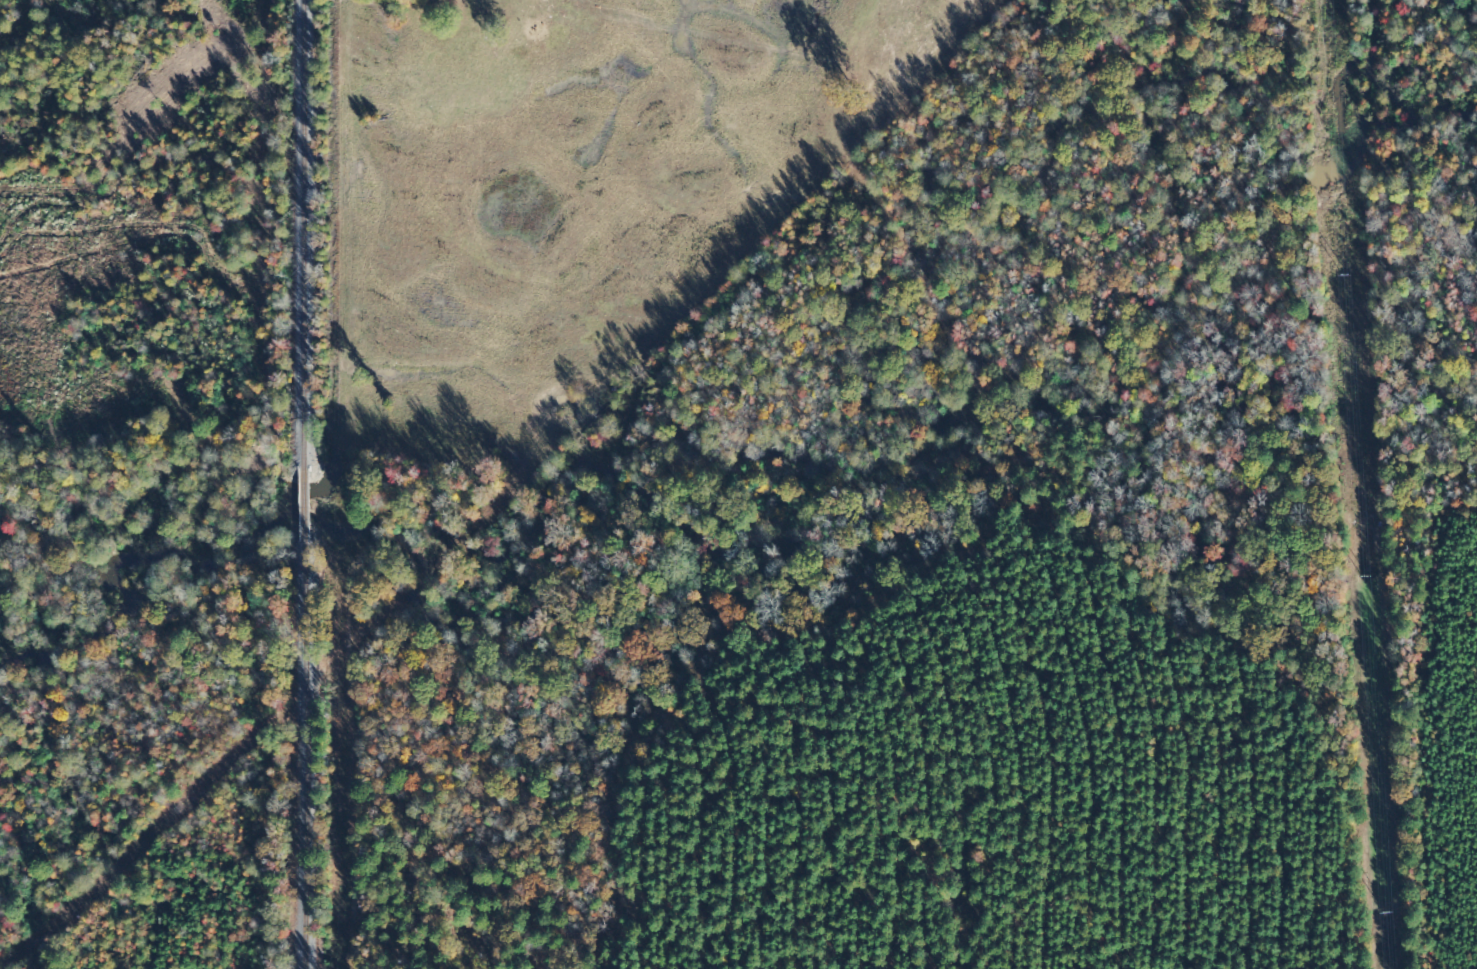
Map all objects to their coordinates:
power tower: (1346, 275)
railway: (325, 484)
power tower: (1367, 578)
power tower: (1383, 913)

